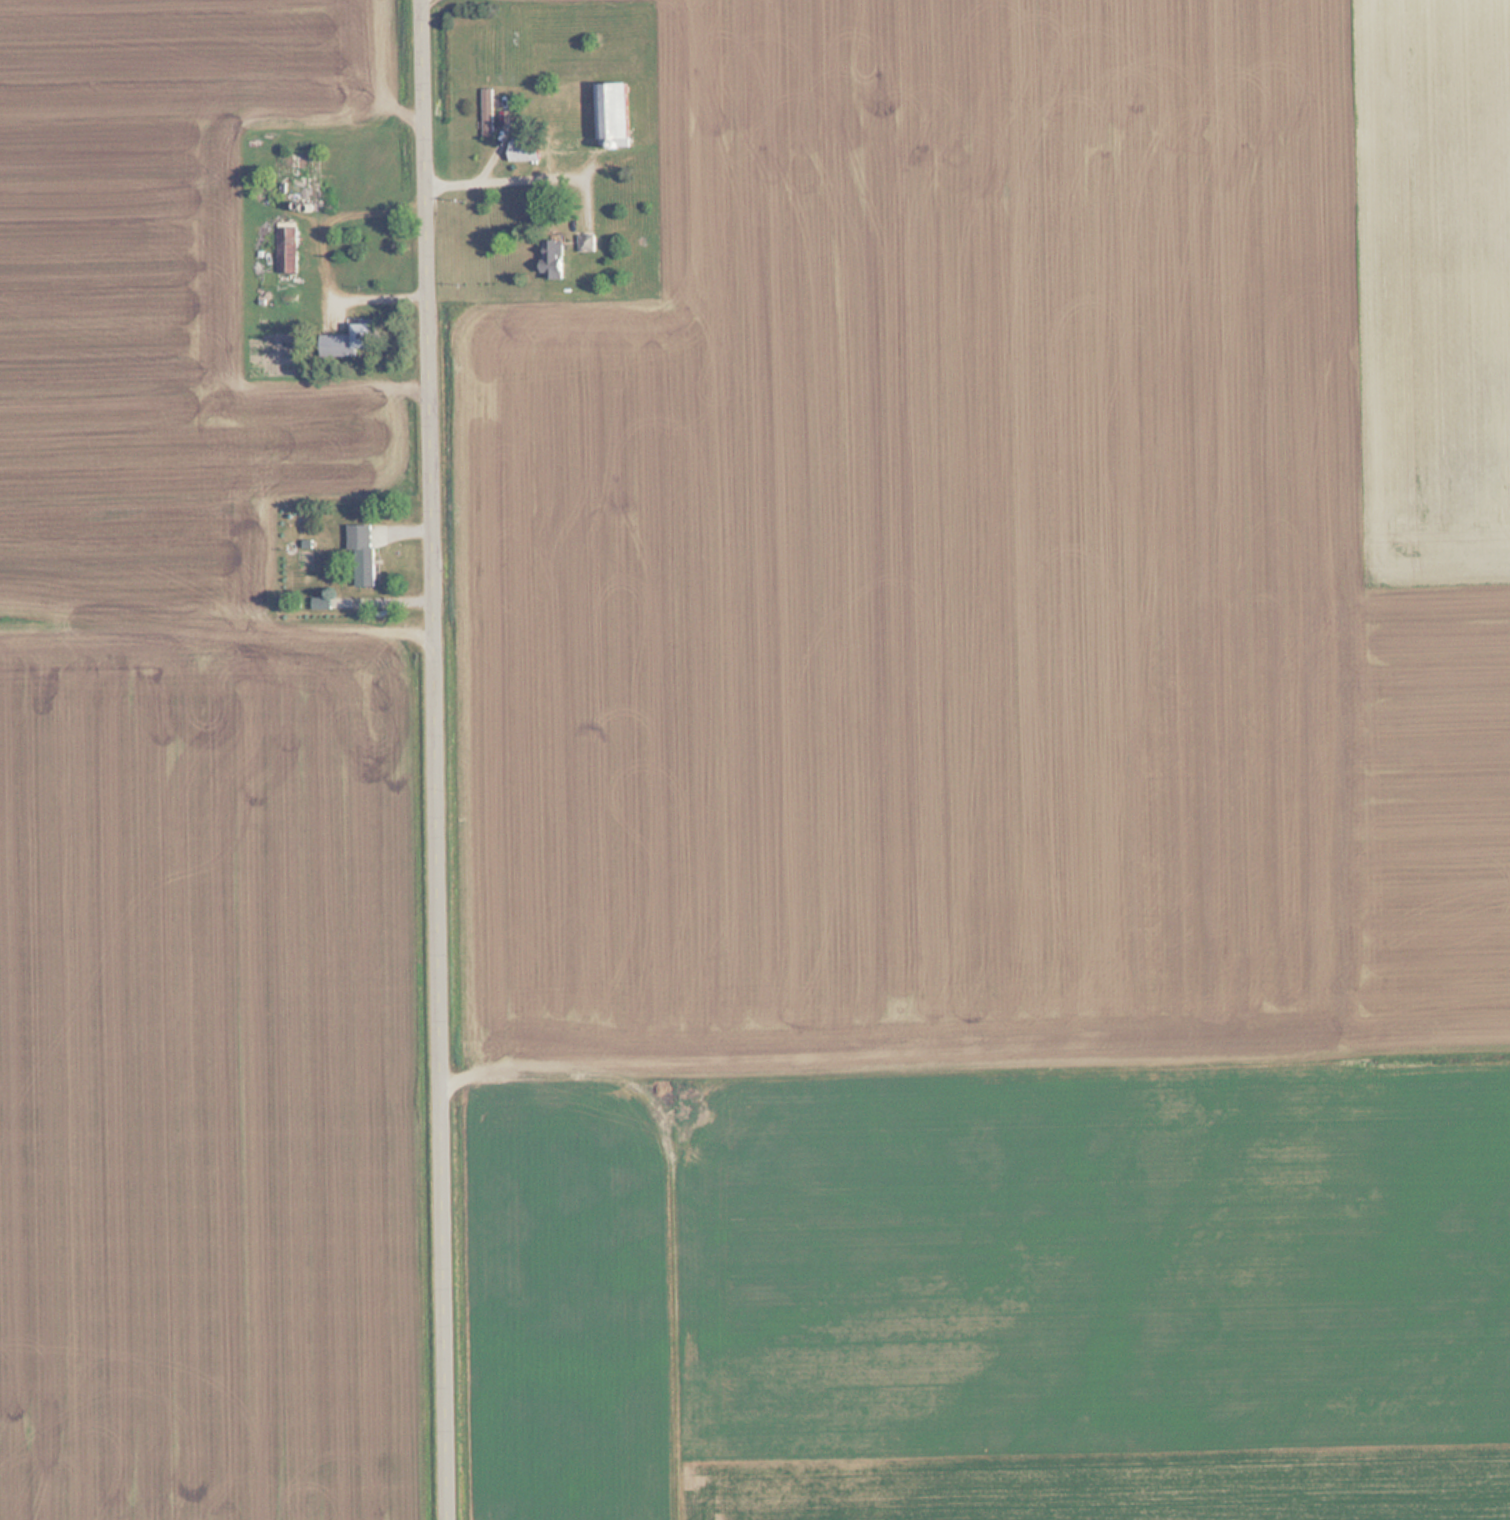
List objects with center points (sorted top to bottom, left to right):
building: (616, 108)
building: (489, 111)
building: (527, 149)
building: (295, 175)
building: (588, 241)
building: (288, 249)
building: (555, 257)
building: (350, 340)
building: (365, 551)
road: (446, 759)

